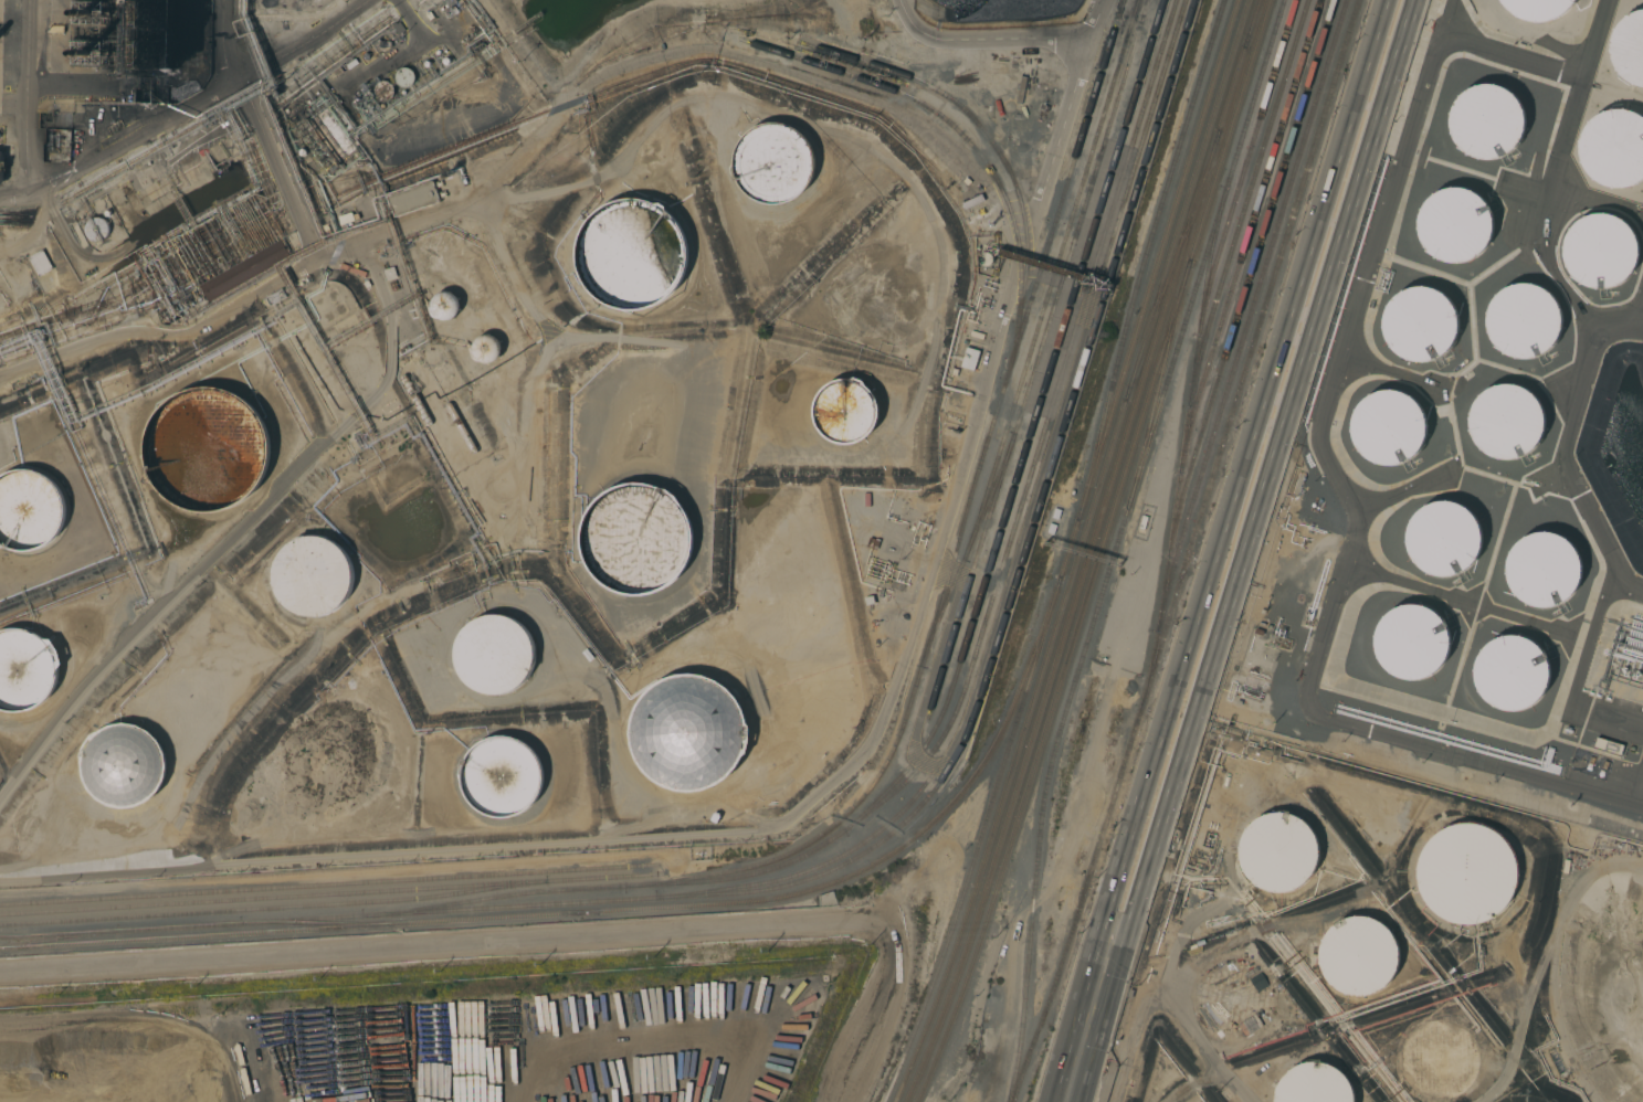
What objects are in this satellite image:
railway: (1123, 2)
railway: (1137, 6)
building: (1536, 8)
building: (92, 12)
road: (973, 39)
road: (227, 43)
building: (1629, 47)
building: (93, 54)
building: (404, 77)
building: (382, 91)
road: (28, 95)
building: (362, 104)
road: (189, 108)
railway: (945, 119)
building: (1486, 123)
building: (1613, 149)
railway: (999, 151)
railway: (1247, 160)
building: (775, 163)
building: (0, 166)
road: (1552, 192)
railway: (1249, 195)
building: (413, 199)
road: (1599, 200)
building: (1454, 225)
railway: (1252, 226)
building: (95, 229)
railway: (1150, 243)
building: (1600, 252)
building: (632, 254)
building: (41, 263)
railway: (1253, 268)
railway: (1172, 269)
building: (244, 271)
railway: (1055, 273)
building: (276, 297)
building: (445, 306)
railway: (1253, 306)
railway: (1142, 312)
railway: (1152, 314)
railway: (1163, 315)
railway: (1173, 317)
building: (1523, 320)
building: (1421, 325)
building: (488, 347)
railway: (1039, 357)
building: (970, 358)
railway: (1160, 380)
building: (415, 400)
building: (845, 411)
building: (1505, 422)
railway: (1045, 426)
building: (461, 427)
building: (1386, 427)
building: (204, 451)
railway: (1183, 458)
road: (1568, 471)
railway: (1213, 478)
road: (1237, 489)
road: (1265, 494)
building: (29, 510)
railway: (1000, 537)
building: (636, 539)
railway: (1021, 539)
building: (1442, 539)
railway: (970, 544)
railway: (1117, 544)
railway: (1028, 545)
building: (1542, 570)
building: (313, 575)
building: (1411, 643)
building: (493, 653)
building: (27, 670)
building: (1509, 672)
road: (1581, 674)
road: (1309, 697)
building: (688, 732)
building: (1607, 746)
building: (335, 753)
building: (124, 765)
building: (503, 775)
road: (811, 796)
railway: (846, 815)
building: (1281, 852)
railway: (972, 866)
railway: (982, 867)
railway: (993, 868)
railway: (1003, 869)
building: (1468, 875)
railway: (324, 886)
railway: (273, 898)
railway: (324, 904)
railway: (512, 907)
railway: (591, 913)
railway: (325, 924)
railway: (54, 940)
road: (543, 940)
building: (1356, 951)
building: (1232, 999)
building: (712, 1011)
railway: (1040, 1029)
road: (1082, 1041)
building: (1436, 1060)
building: (1313, 1084)

